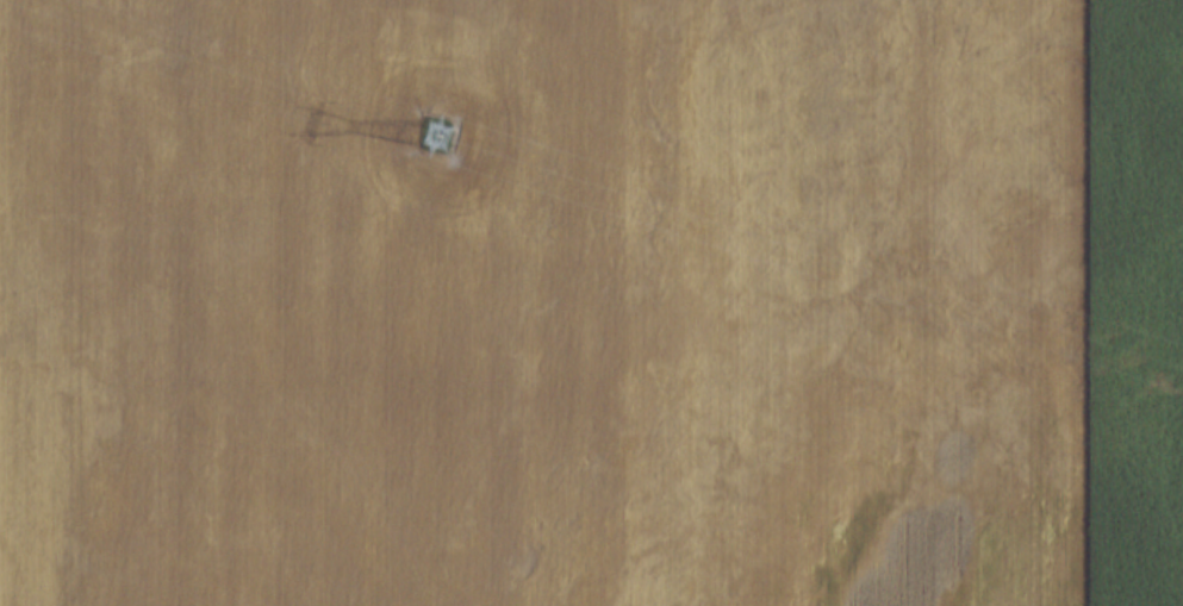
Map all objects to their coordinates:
power tower: (437, 139)

